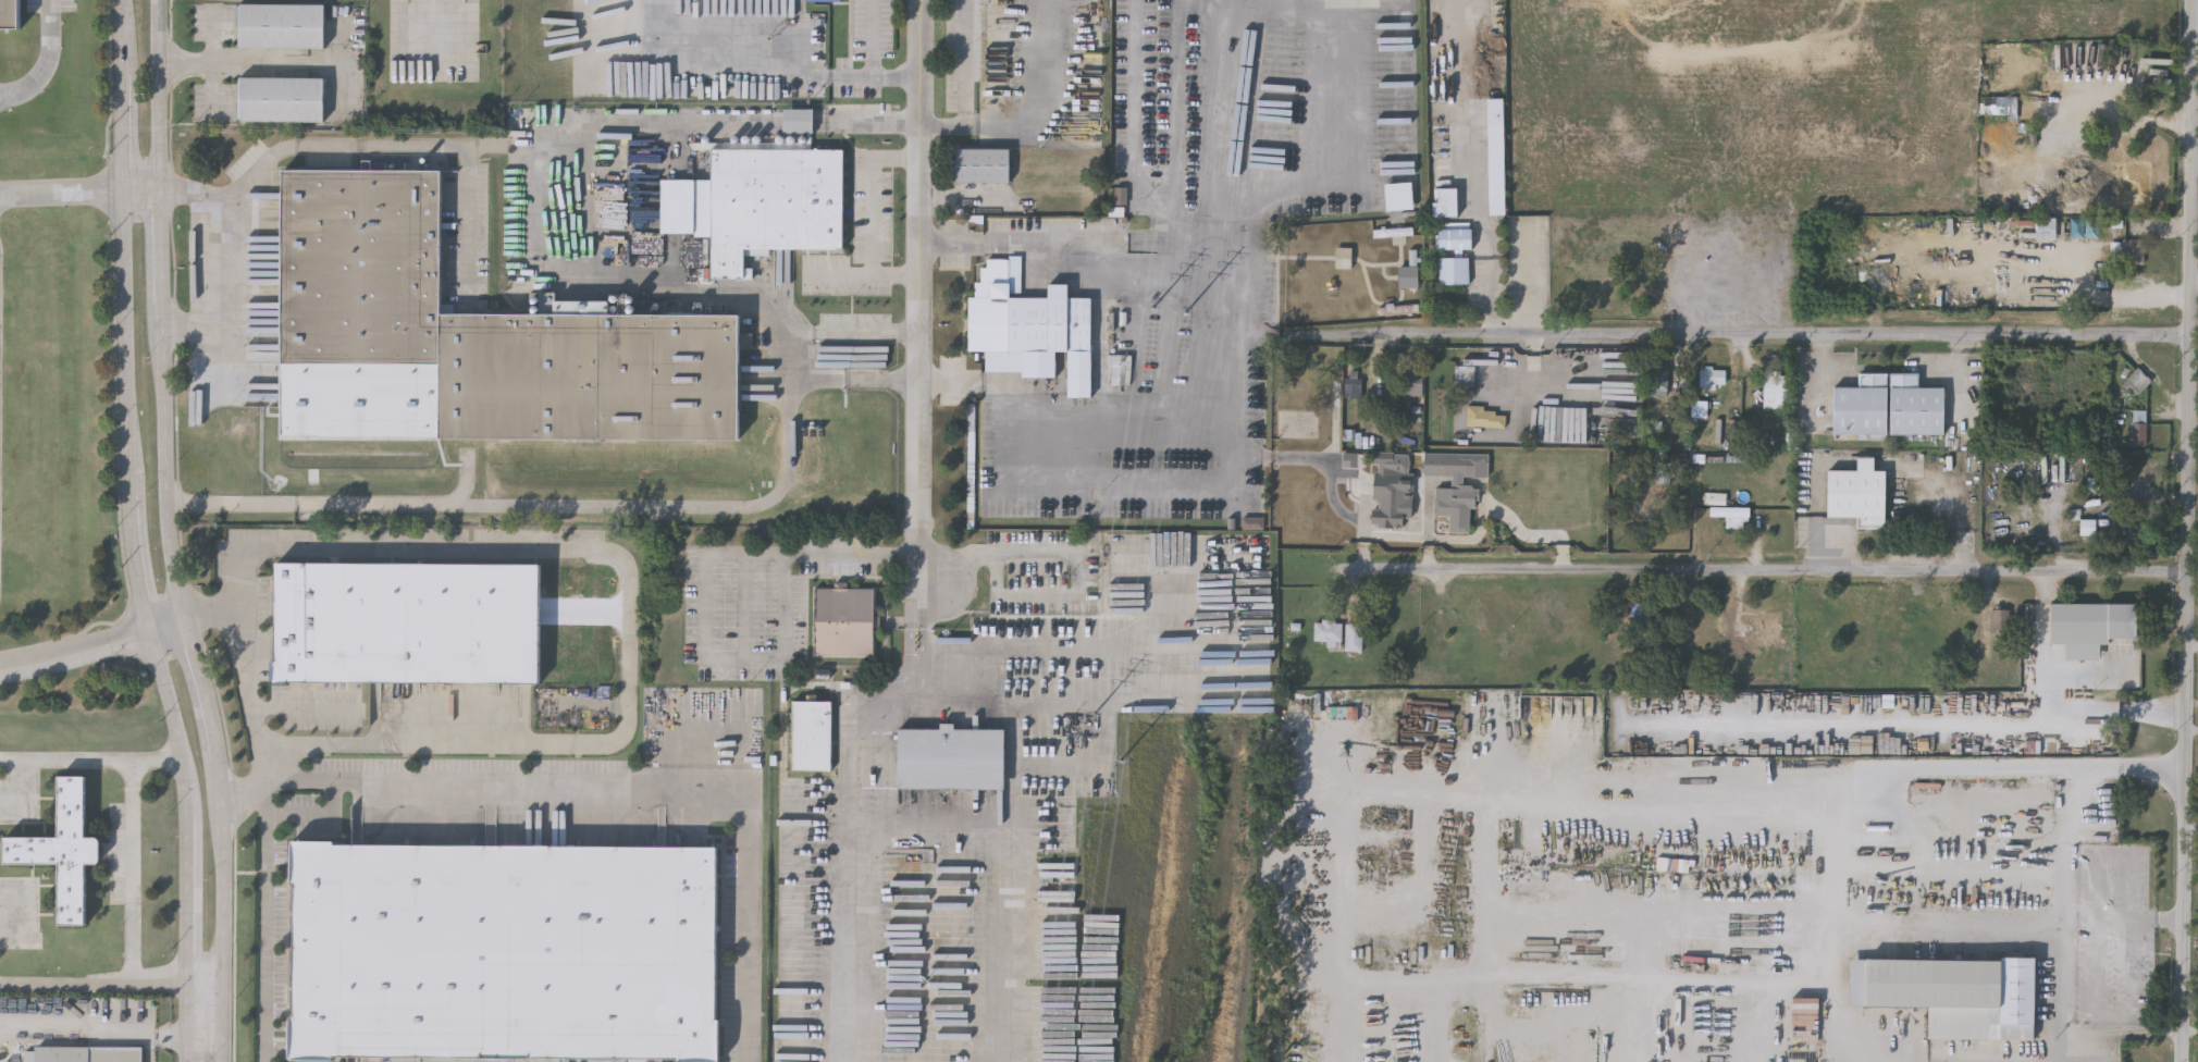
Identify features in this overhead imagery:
building: (828, 0)
building: (10, 12)
building: (2135, 21)
building: (282, 27)
road: (399, 29)
road: (875, 39)
road: (45, 60)
road: (967, 63)
road: (214, 65)
road: (277, 66)
road: (731, 75)
road: (898, 78)
building: (1492, 83)
road: (160, 97)
building: (281, 101)
building: (2001, 106)
road: (1032, 112)
road: (798, 123)
road: (868, 123)
road: (492, 148)
building: (985, 168)
building: (1496, 169)
building: (1444, 171)
road: (1473, 187)
road: (143, 194)
road: (62, 195)
building: (1398, 196)
building: (763, 198)
road: (873, 198)
road: (964, 198)
building: (1445, 201)
road: (469, 220)
building: (2085, 226)
building: (2046, 227)
building: (1393, 232)
building: (1393, 235)
building: (1454, 235)
building: (2134, 251)
building: (1344, 257)
road: (162, 260)
road: (224, 267)
building: (358, 268)
building: (1454, 270)
road: (867, 276)
building: (1409, 276)
road: (921, 280)
road: (1530, 280)
road: (678, 284)
power tower: (1159, 312)
power tower: (1189, 318)
building: (1029, 324)
road: (195, 328)
road: (1757, 336)
road: (1171, 359)
road: (1531, 365)
building: (589, 373)
building: (1658, 379)
building: (1713, 379)
road: (853, 381)
building: (2138, 381)
building: (1351, 384)
building: (1413, 385)
building: (1777, 390)
building: (1310, 391)
building: (1861, 406)
building: (1914, 406)
building: (1700, 409)
building: (1486, 416)
building: (2139, 428)
road: (168, 476)
building: (1392, 489)
building: (1460, 490)
building: (1857, 493)
building: (1717, 497)
road: (565, 506)
building: (1732, 515)
building: (2123, 524)
building: (2087, 527)
road: (2187, 531)
road: (134, 533)
road: (1370, 533)
road: (593, 548)
road: (1361, 552)
road: (1428, 554)
road: (1075, 556)
road: (1759, 572)
road: (918, 592)
road: (708, 593)
road: (213, 618)
building: (844, 620)
building: (405, 622)
building: (1766, 626)
building: (2090, 626)
building: (1329, 631)
building: (1355, 635)
road: (2191, 645)
road: (92, 646)
road: (911, 653)
road: (925, 654)
road: (916, 687)
road: (202, 688)
road: (305, 706)
road: (2050, 709)
power tower: (1098, 716)
building: (811, 734)
building: (952, 757)
road: (90, 763)
road: (1884, 764)
power tower: (1125, 767)
road: (621, 786)
road: (1469, 791)
road: (2076, 794)
road: (952, 823)
building: (63, 848)
road: (135, 873)
road: (2099, 887)
road: (225, 906)
road: (2169, 917)
road: (264, 923)
road: (2098, 931)
road: (1943, 934)
building: (503, 951)
building: (1642, 972)
road: (1596, 976)
road: (113, 983)
building: (1956, 995)
building: (2099, 1009)
road: (78, 1029)
road: (2110, 1030)
road: (2175, 1032)
road: (172, 1038)
road: (150, 1048)
road: (194, 1050)
building: (88, 1053)

